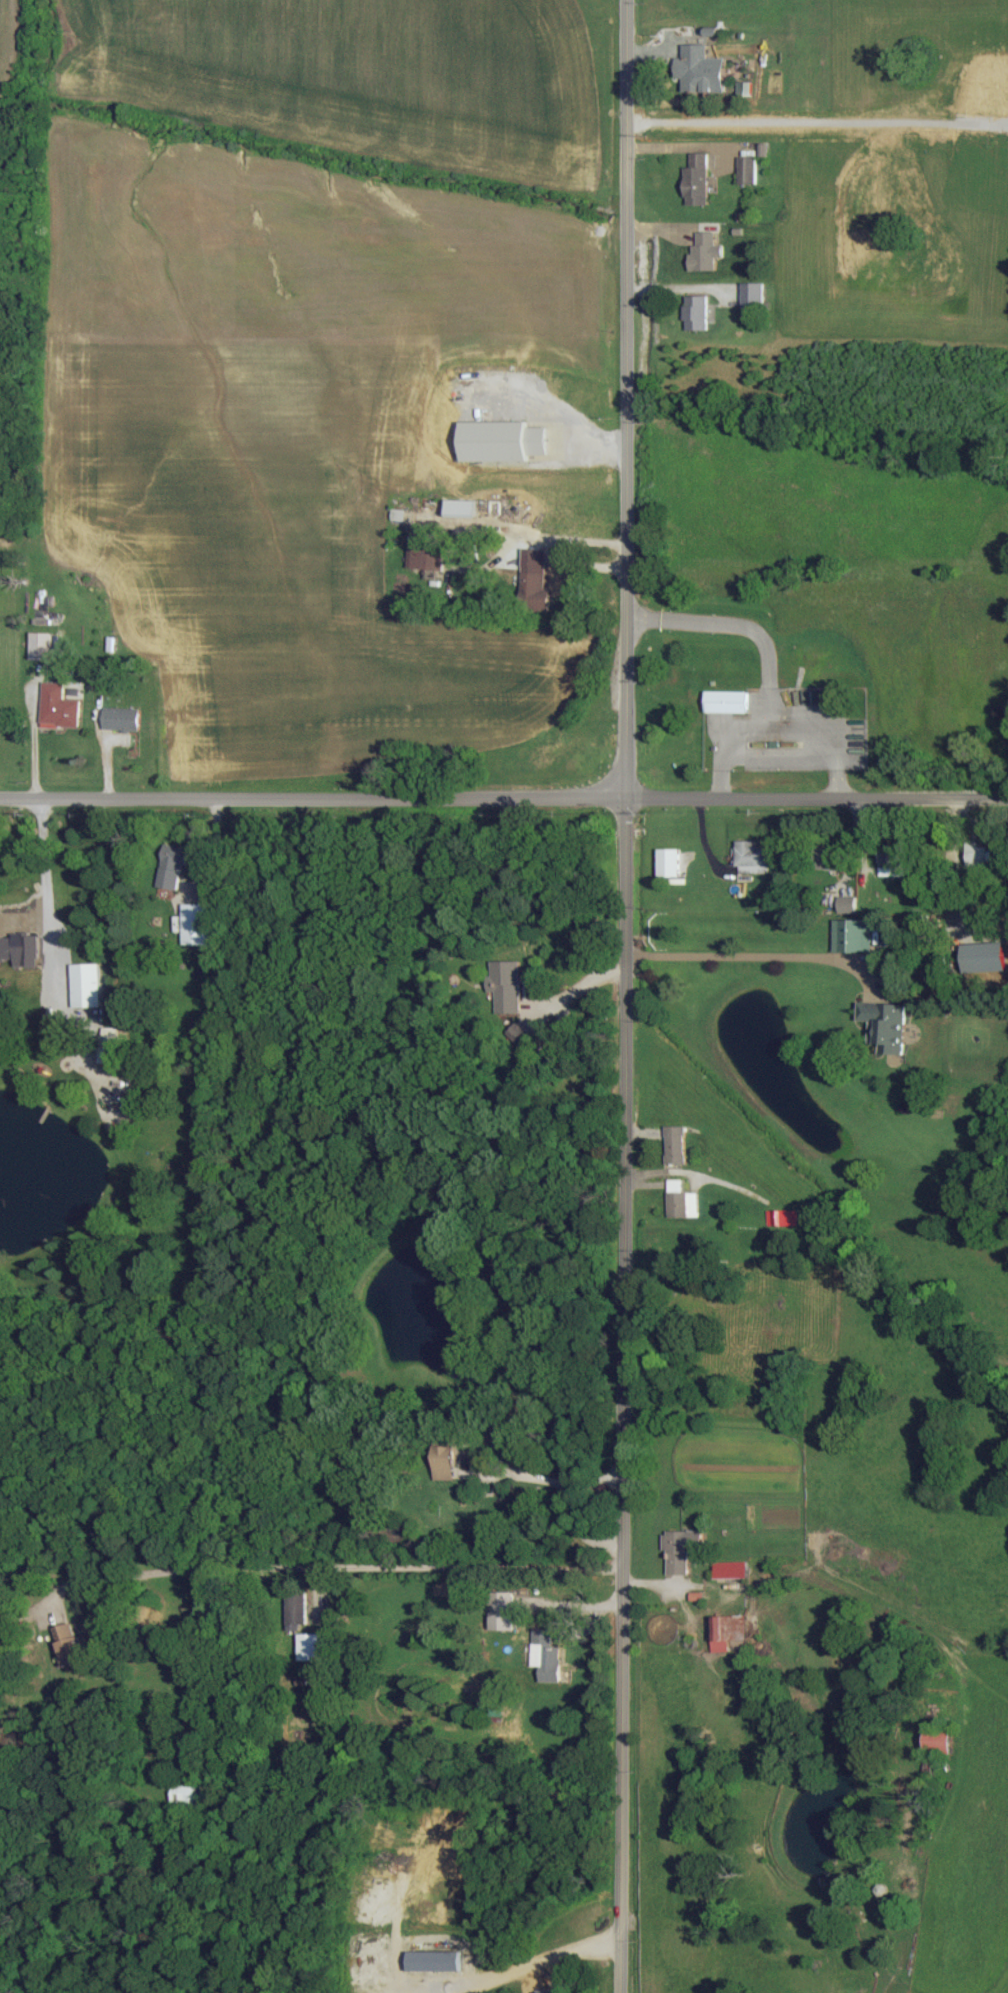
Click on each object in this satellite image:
building: (700, 70)
building: (745, 89)
building: (748, 171)
building: (697, 181)
building: (705, 252)
building: (753, 295)
building: (697, 313)
road: (568, 425)
building: (501, 440)
building: (462, 507)
building: (400, 515)
building: (426, 554)
building: (535, 591)
building: (43, 624)
building: (42, 645)
building: (727, 701)
building: (60, 706)
building: (122, 718)
road: (504, 794)
road: (216, 852)
building: (978, 854)
building: (829, 856)
building: (753, 857)
building: (893, 860)
building: (669, 862)
building: (174, 866)
road: (41, 877)
building: (848, 904)
building: (201, 923)
building: (854, 935)
building: (20, 950)
road: (747, 955)
building: (87, 984)
building: (507, 985)
road: (575, 988)
road: (627, 996)
building: (886, 1025)
building: (518, 1033)
building: (109, 1045)
building: (676, 1144)
building: (683, 1200)
building: (784, 1217)
building: (444, 1439)
building: (444, 1463)
road: (557, 1480)
building: (682, 1549)
road: (327, 1565)
building: (731, 1570)
building: (298, 1611)
building: (502, 1611)
building: (728, 1631)
building: (68, 1644)
building: (312, 1647)
building: (547, 1656)
building: (493, 1705)
building: (939, 1739)
building: (186, 1794)
building: (435, 1960)
road: (535, 1960)

